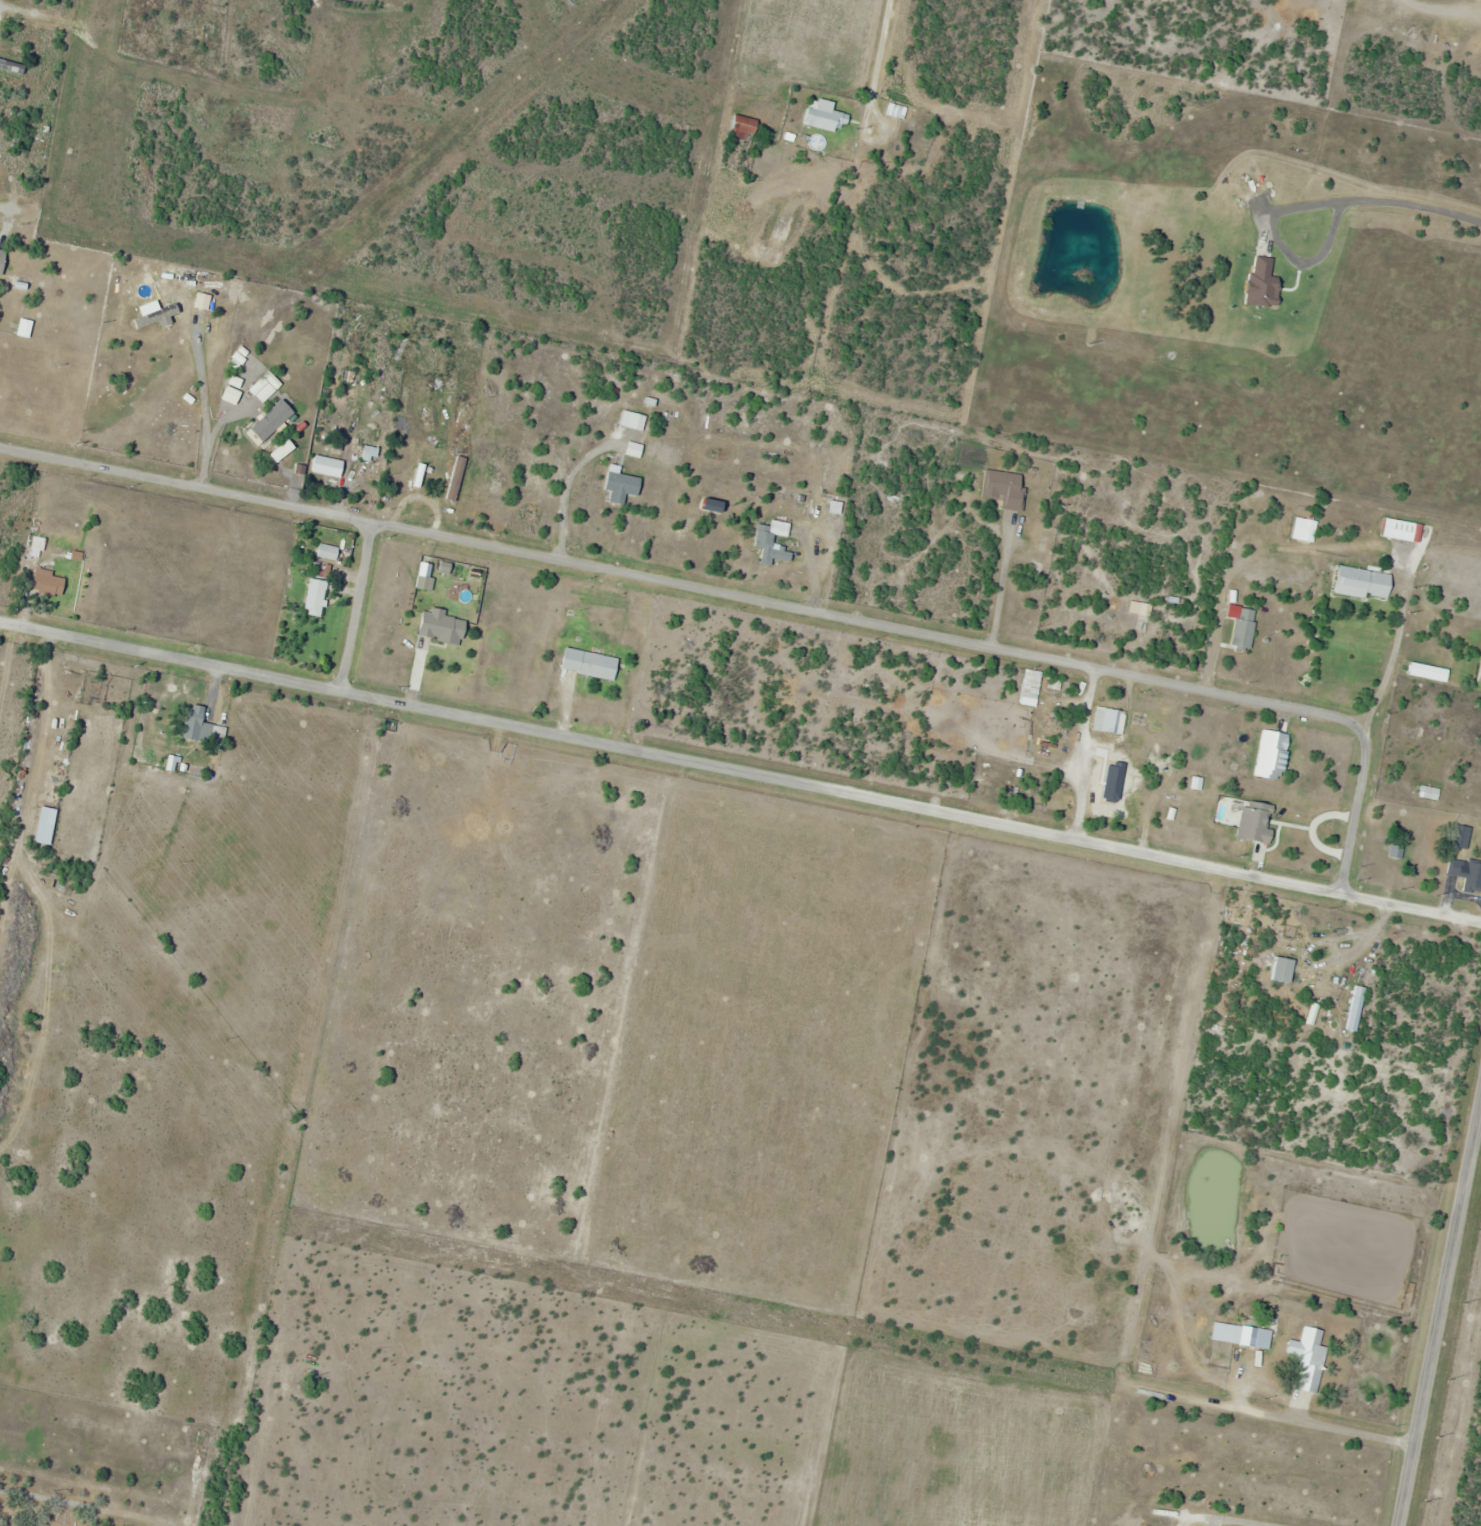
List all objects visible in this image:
road: (29, 11)
building: (12, 68)
building: (826, 116)
building: (745, 129)
road: (8, 205)
building: (2, 261)
building: (26, 329)
building: (348, 376)
building: (635, 417)
building: (275, 422)
building: (329, 467)
building: (622, 486)
road: (566, 487)
building: (1005, 489)
building: (1404, 531)
building: (74, 546)
building: (773, 546)
building: (36, 549)
building: (1364, 584)
building: (50, 585)
road: (999, 588)
building: (316, 598)
road: (765, 600)
road: (361, 607)
building: (1145, 610)
building: (442, 628)
building: (591, 664)
building: (77, 673)
building: (1031, 691)
building: (1145, 719)
building: (1110, 720)
building: (199, 726)
road: (740, 771)
building: (1119, 779)
building: (1430, 793)
building: (403, 813)
building: (1463, 837)
building: (1467, 874)
building: (448, 898)
road: (1345, 955)
building: (1285, 970)
building: (1357, 1008)
building: (1160, 1309)
road: (1439, 1309)
building: (1309, 1358)
road: (1329, 1426)
park: (106, 1465)

